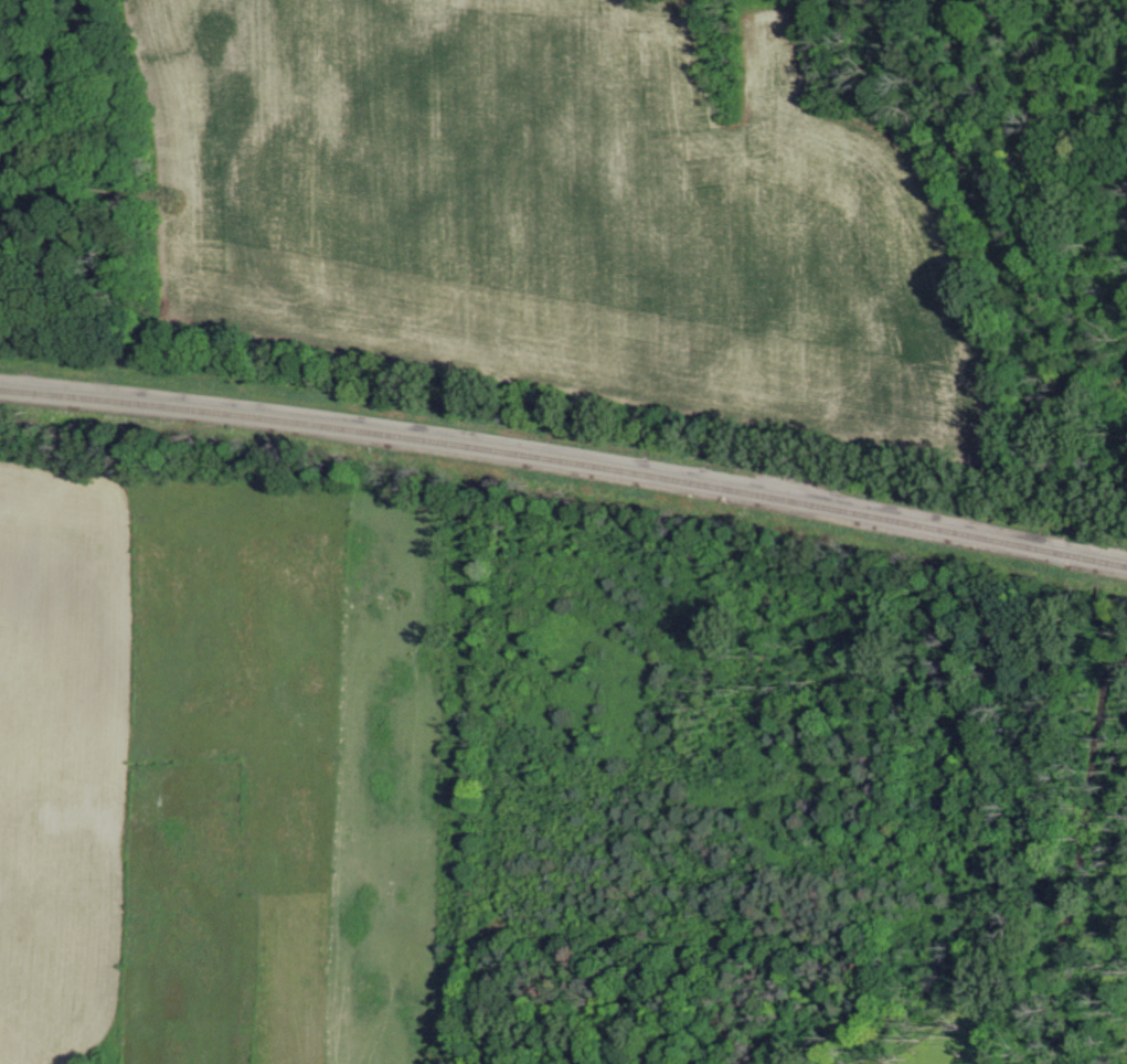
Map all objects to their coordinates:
river: (1119, 6)
railway: (566, 459)

